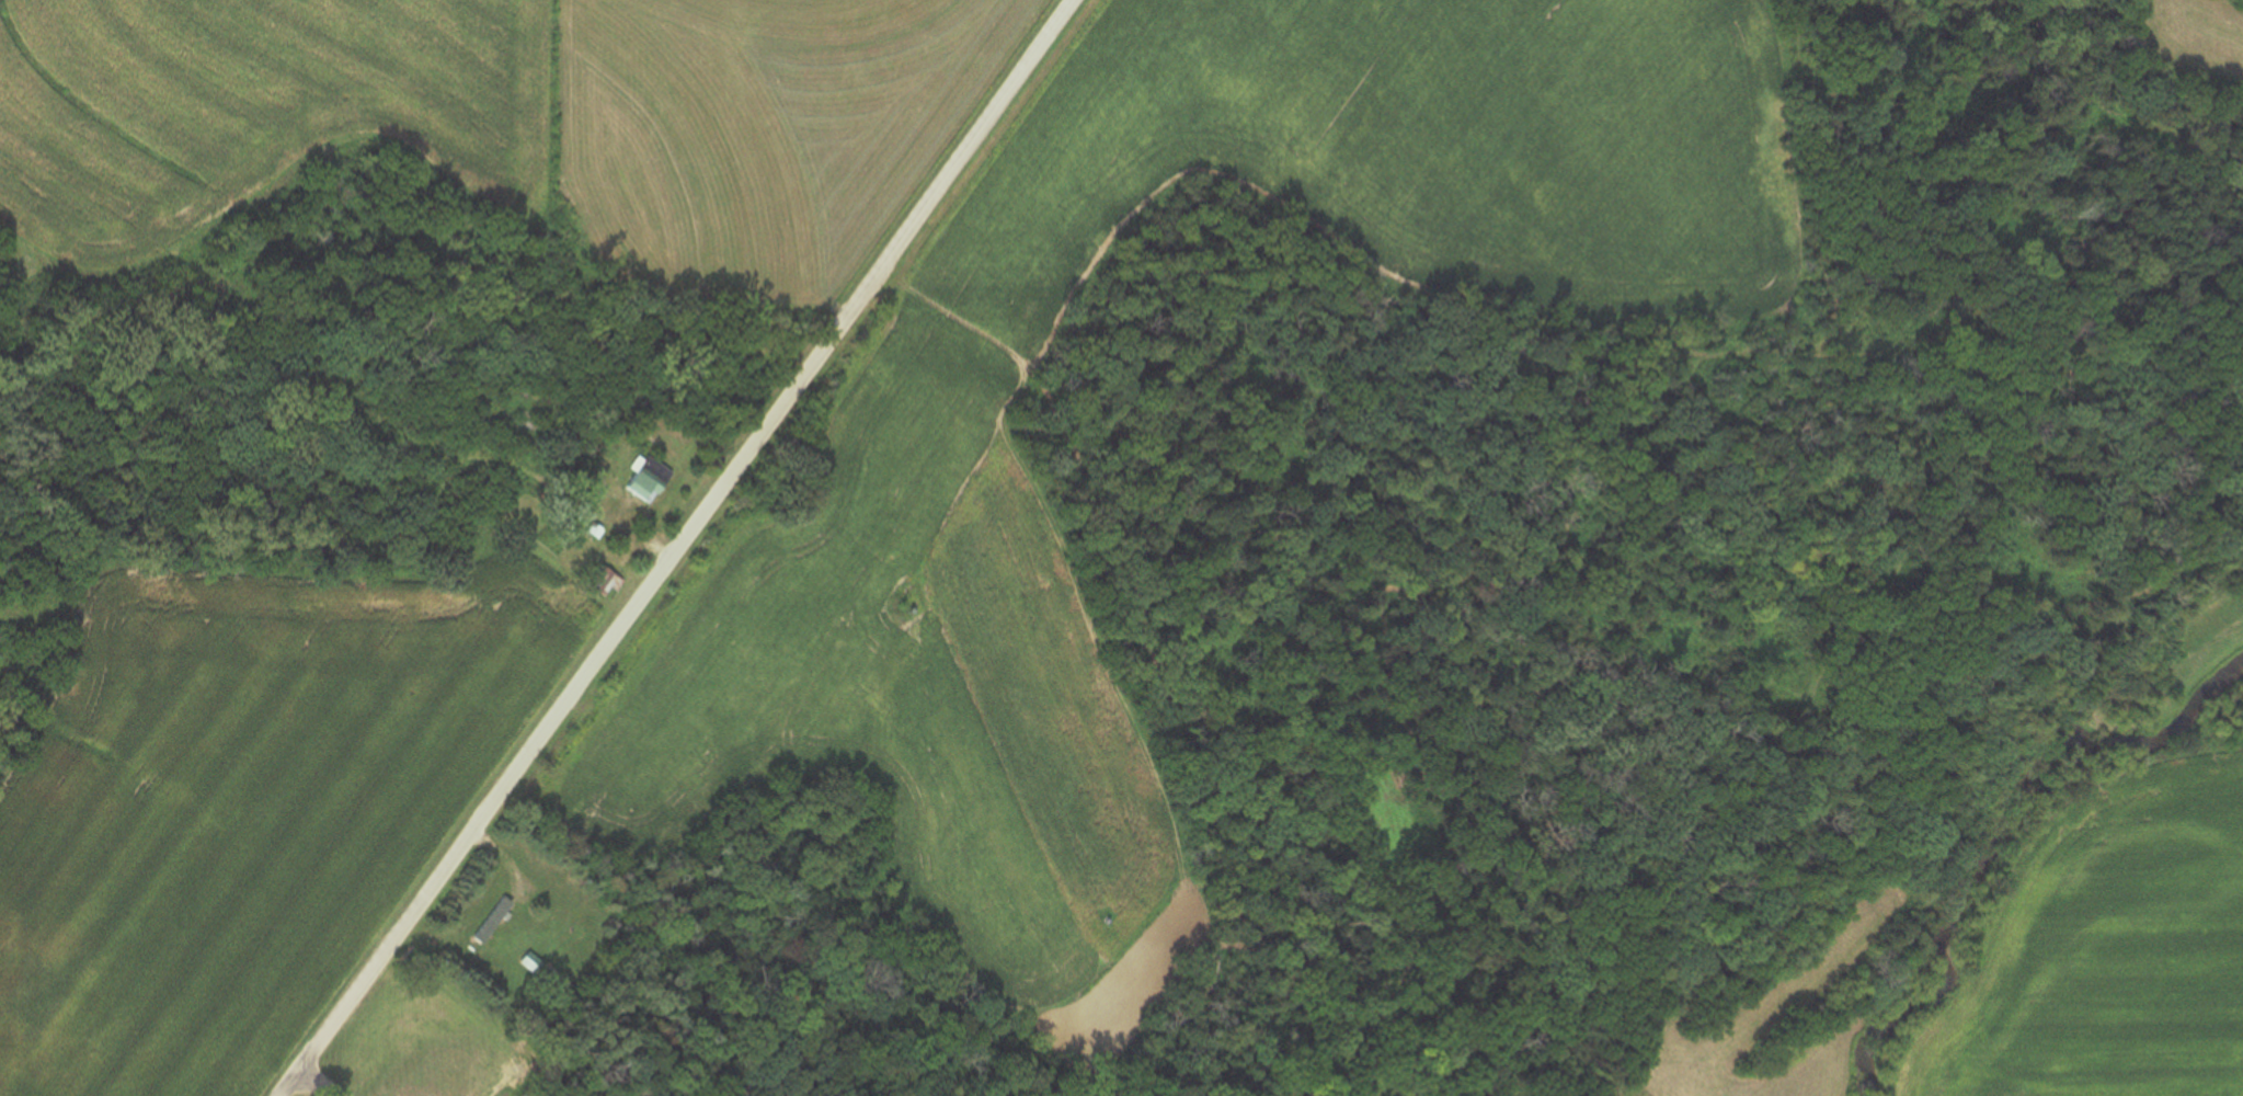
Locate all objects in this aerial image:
building: (650, 481)
road: (679, 548)
building: (607, 580)
building: (497, 922)

